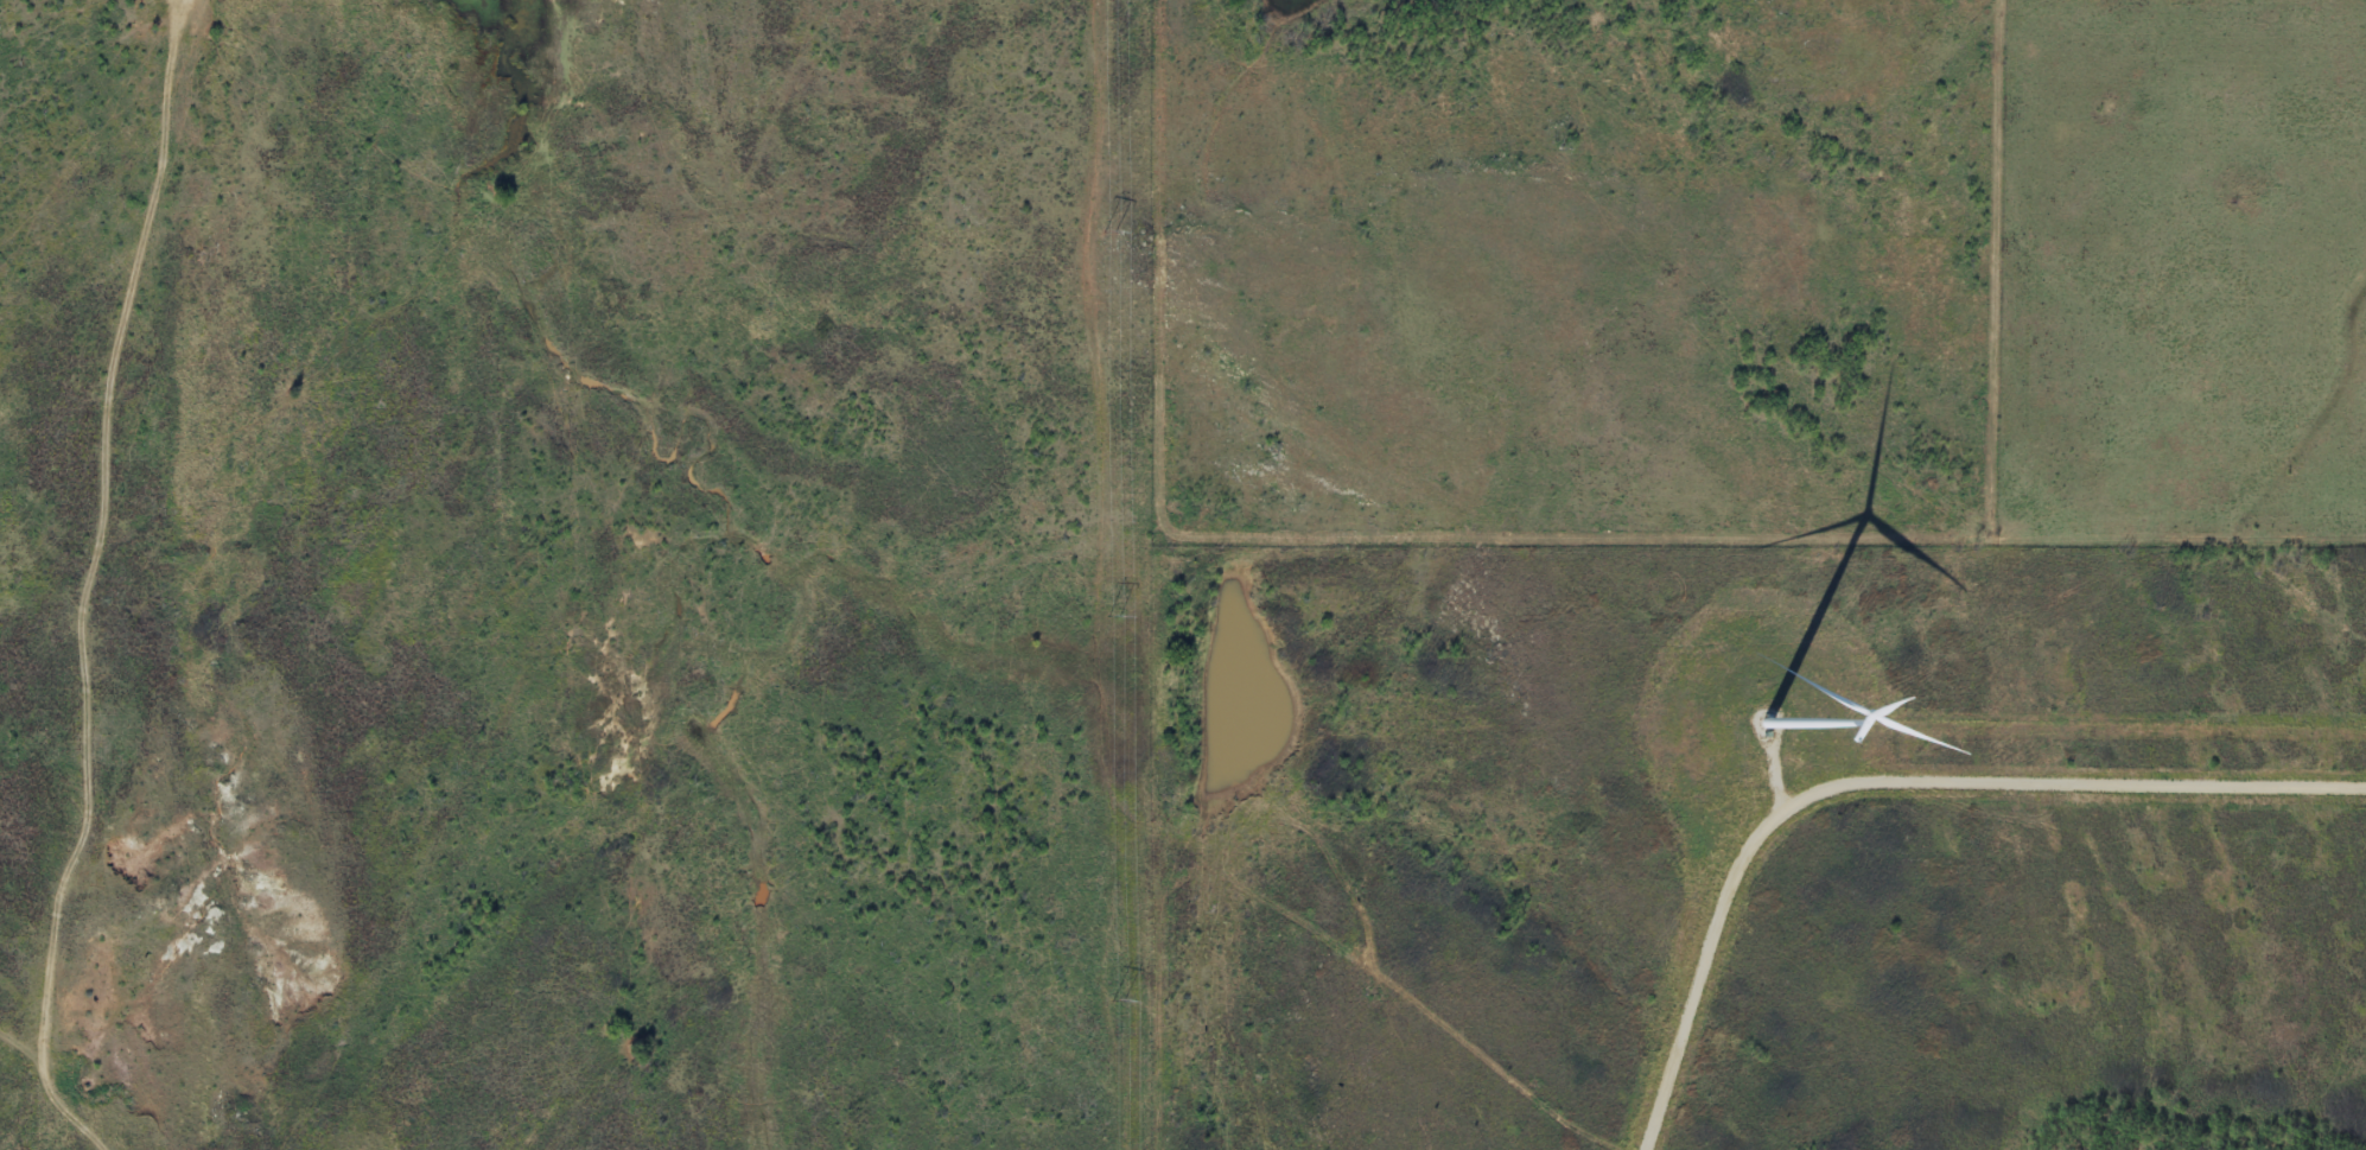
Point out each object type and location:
road: (2082, 102)
wind turbine: (1762, 706)
road: (1883, 777)

